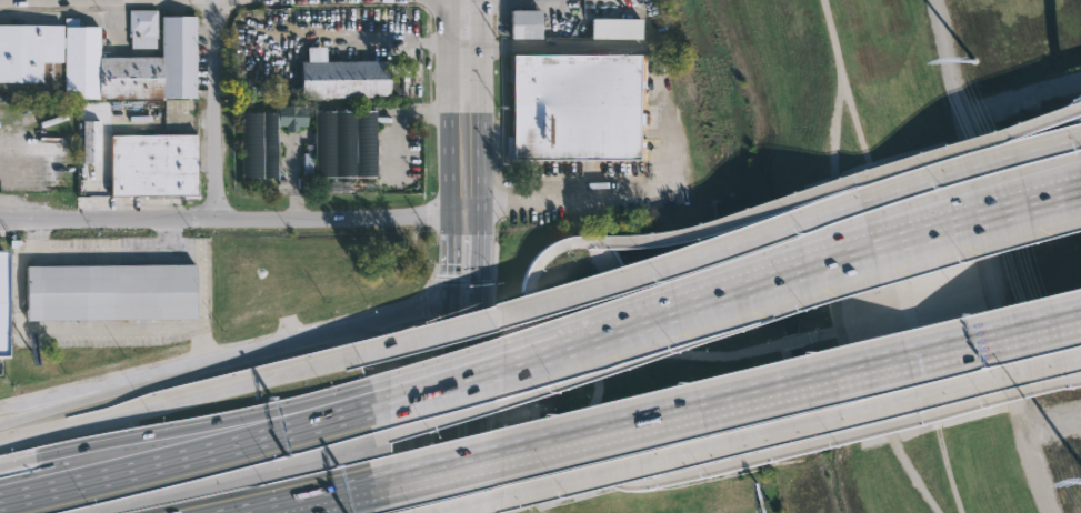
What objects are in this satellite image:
road: (516, 2)
building: (526, 24)
building: (617, 28)
road: (390, 41)
building: (104, 59)
power tower: (974, 61)
building: (350, 79)
road: (900, 82)
road: (466, 103)
road: (210, 107)
building: (579, 108)
building: (266, 140)
building: (344, 143)
building: (89, 145)
building: (152, 165)
road: (845, 180)
road: (564, 201)
road: (232, 214)
road: (168, 233)
park: (948, 237)
road: (719, 247)
road: (448, 250)
road: (480, 250)
road: (154, 252)
road: (818, 258)
road: (985, 258)
road: (897, 273)
building: (109, 293)
traffic signals: (481, 296)
road: (466, 298)
traffic signals: (451, 299)
building: (0, 303)
road: (834, 304)
road: (61, 328)
road: (450, 339)
road: (714, 349)
road: (223, 359)
road: (528, 369)
road: (463, 372)
road: (480, 390)
road: (725, 396)
road: (179, 400)
road: (420, 400)
road: (44, 402)
road: (201, 429)
road: (863, 430)
road: (755, 433)
road: (208, 443)
road: (450, 446)
road: (17, 461)
road: (23, 491)
road: (303, 499)
road: (480, 499)

